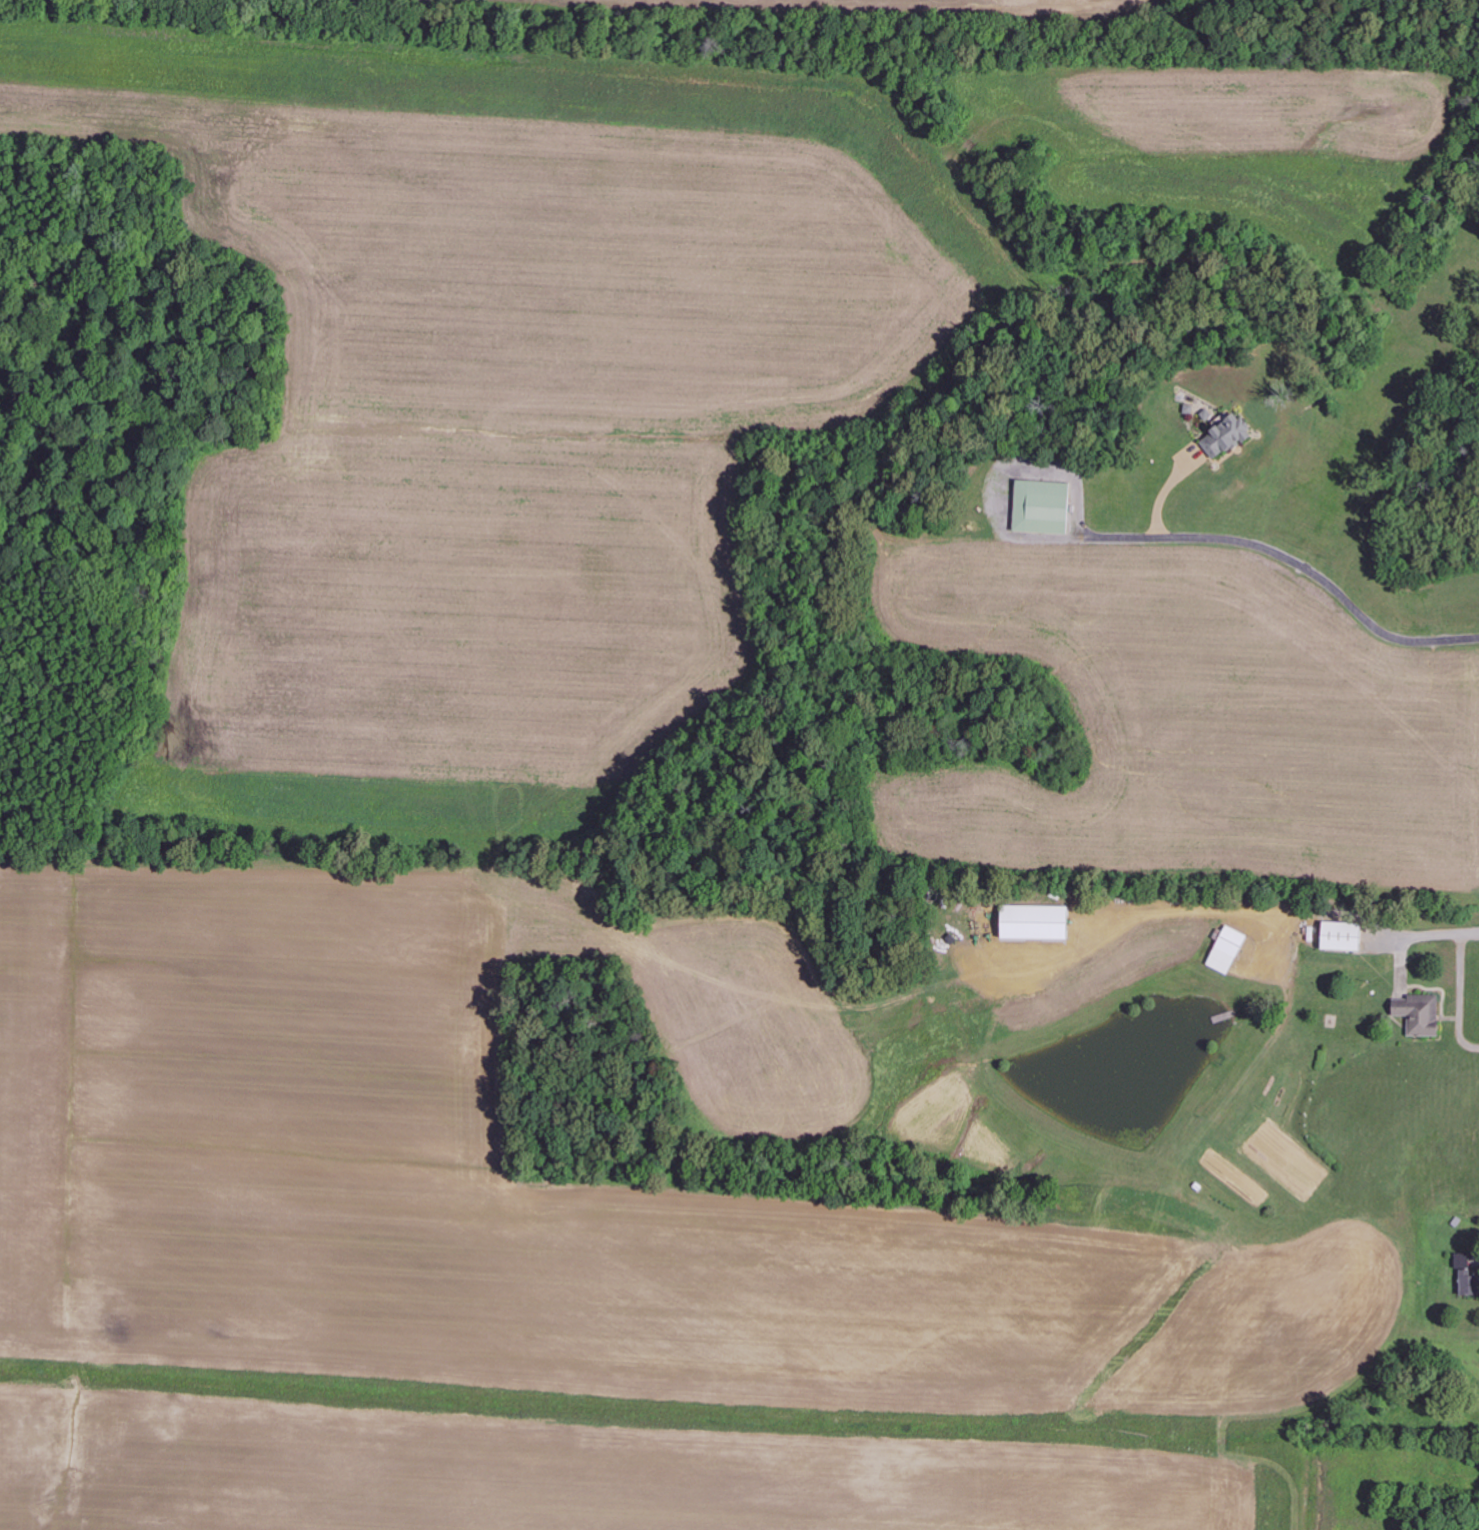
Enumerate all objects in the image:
building: (1228, 437)
building: (1043, 507)
building: (1037, 923)
building: (1343, 937)
building: (1228, 950)
building: (1421, 1015)
building: (1468, 1275)

